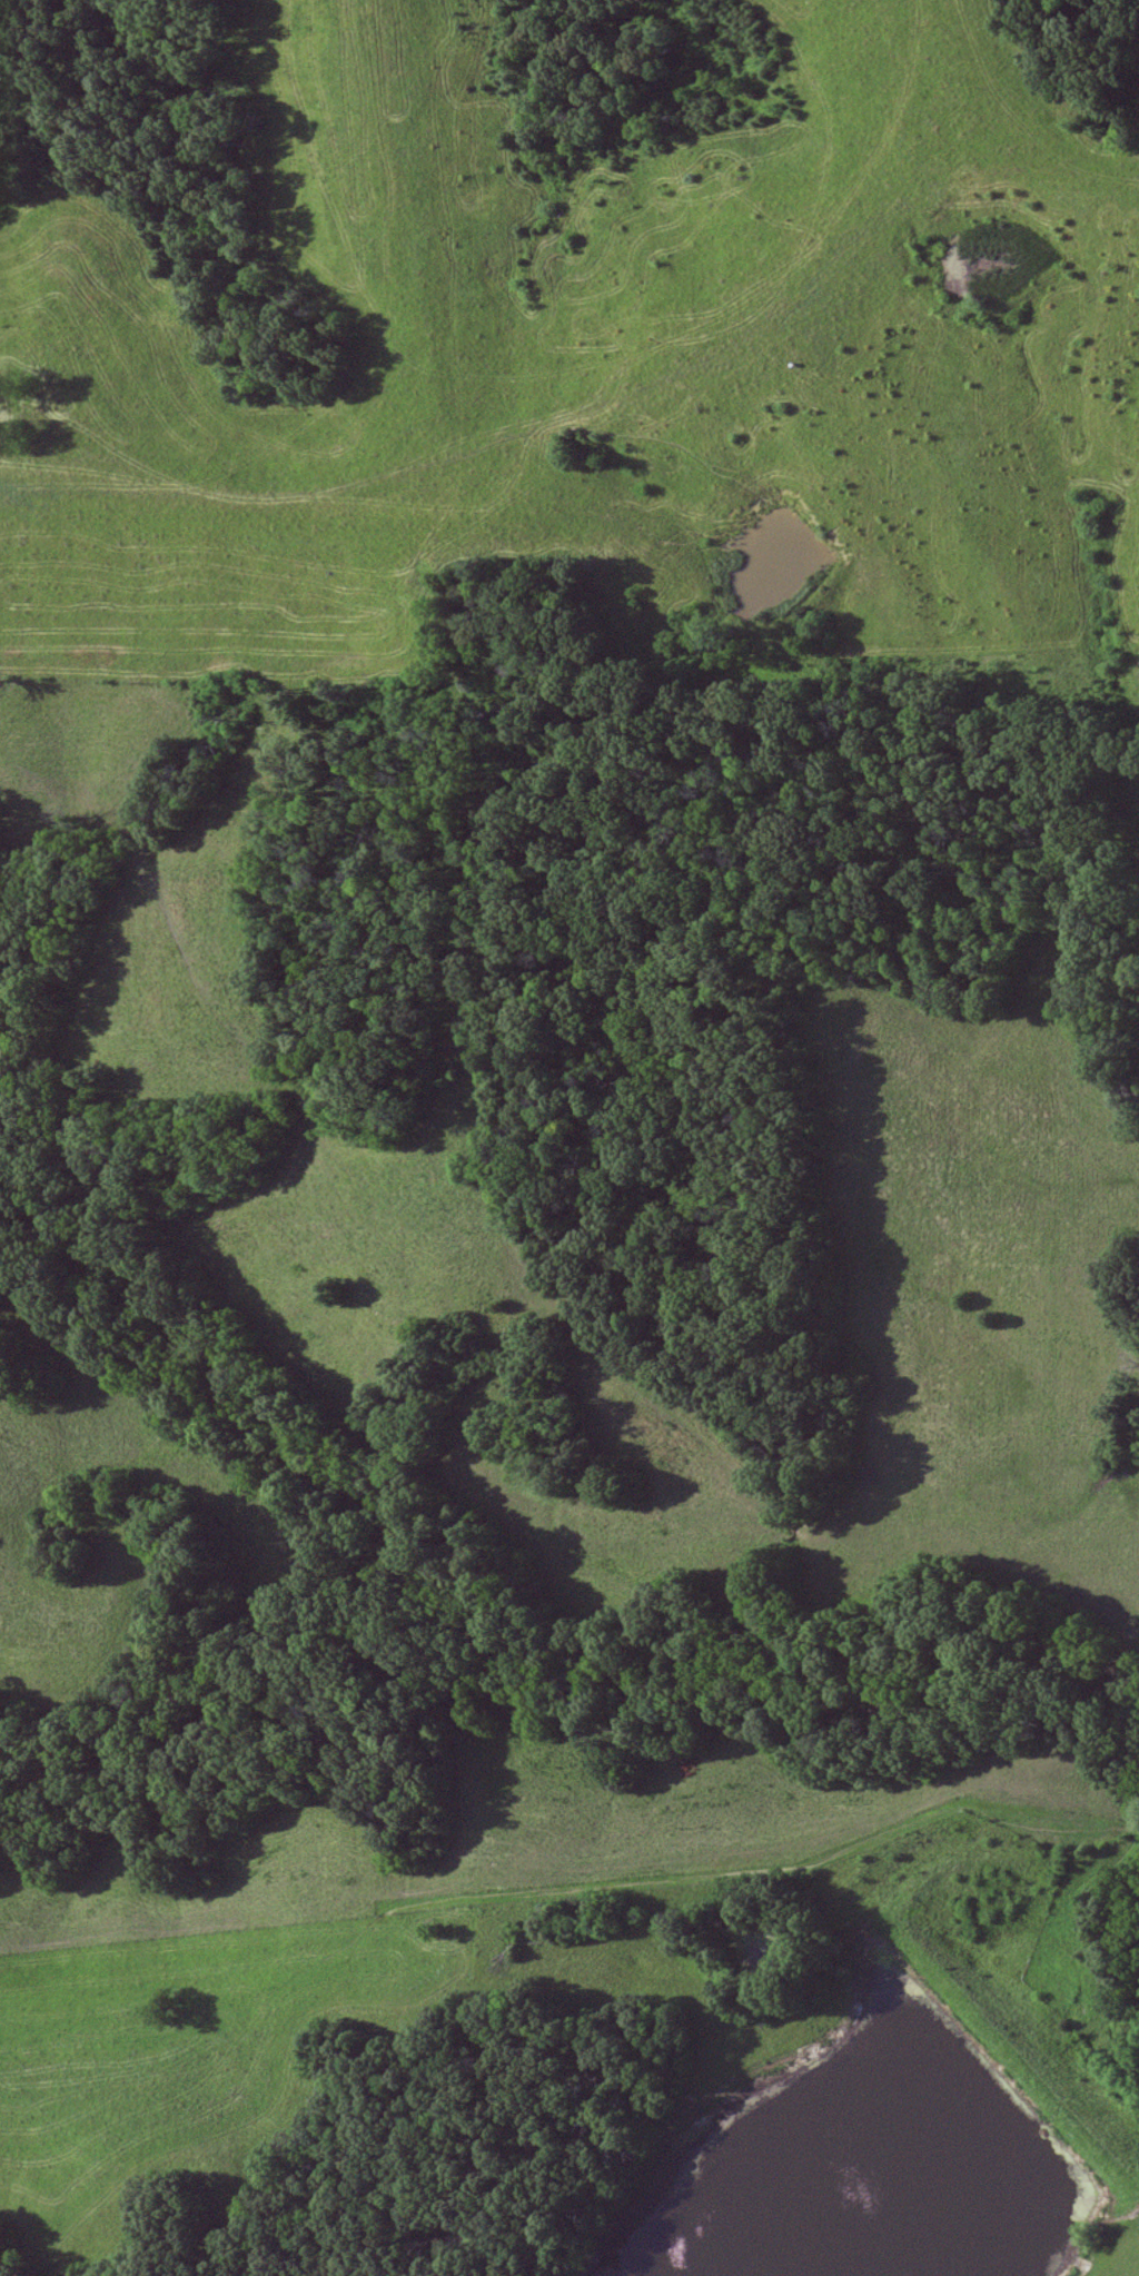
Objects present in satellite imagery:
park: (499, 624)

